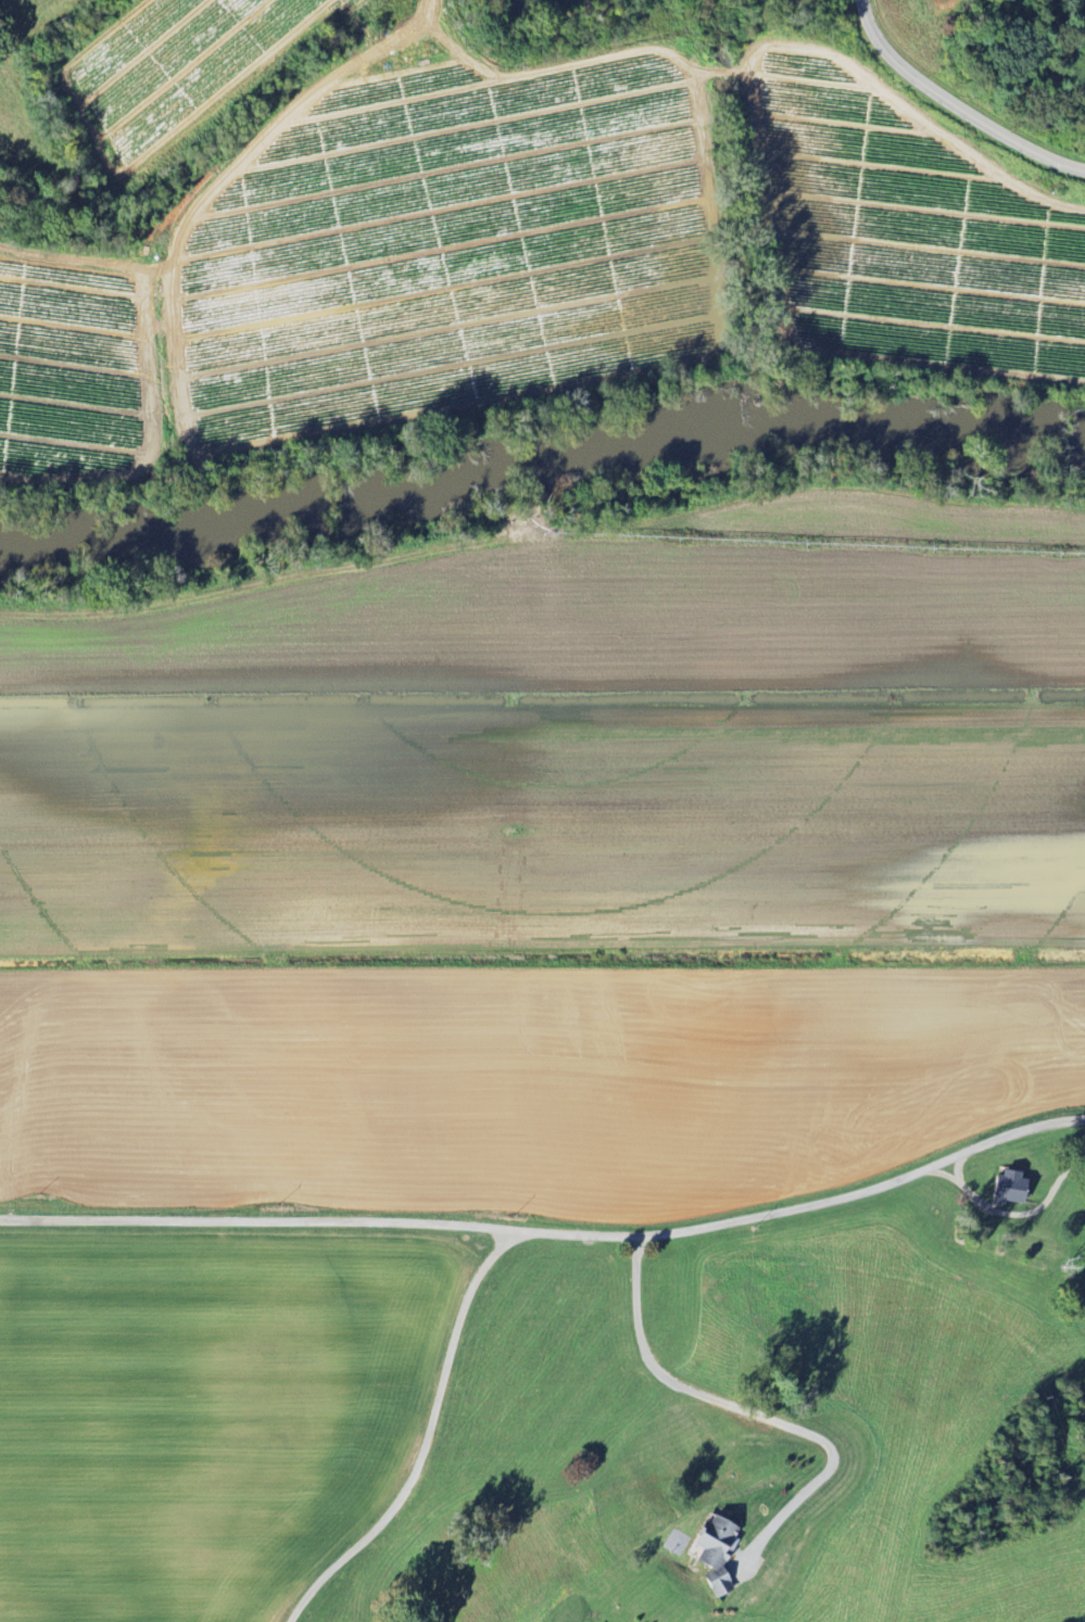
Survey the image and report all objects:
road: (955, 103)
river: (916, 420)
river: (373, 479)
building: (1006, 1188)
road: (808, 1204)
road: (260, 1219)
road: (746, 1411)
road: (426, 1437)
building: (709, 1553)

